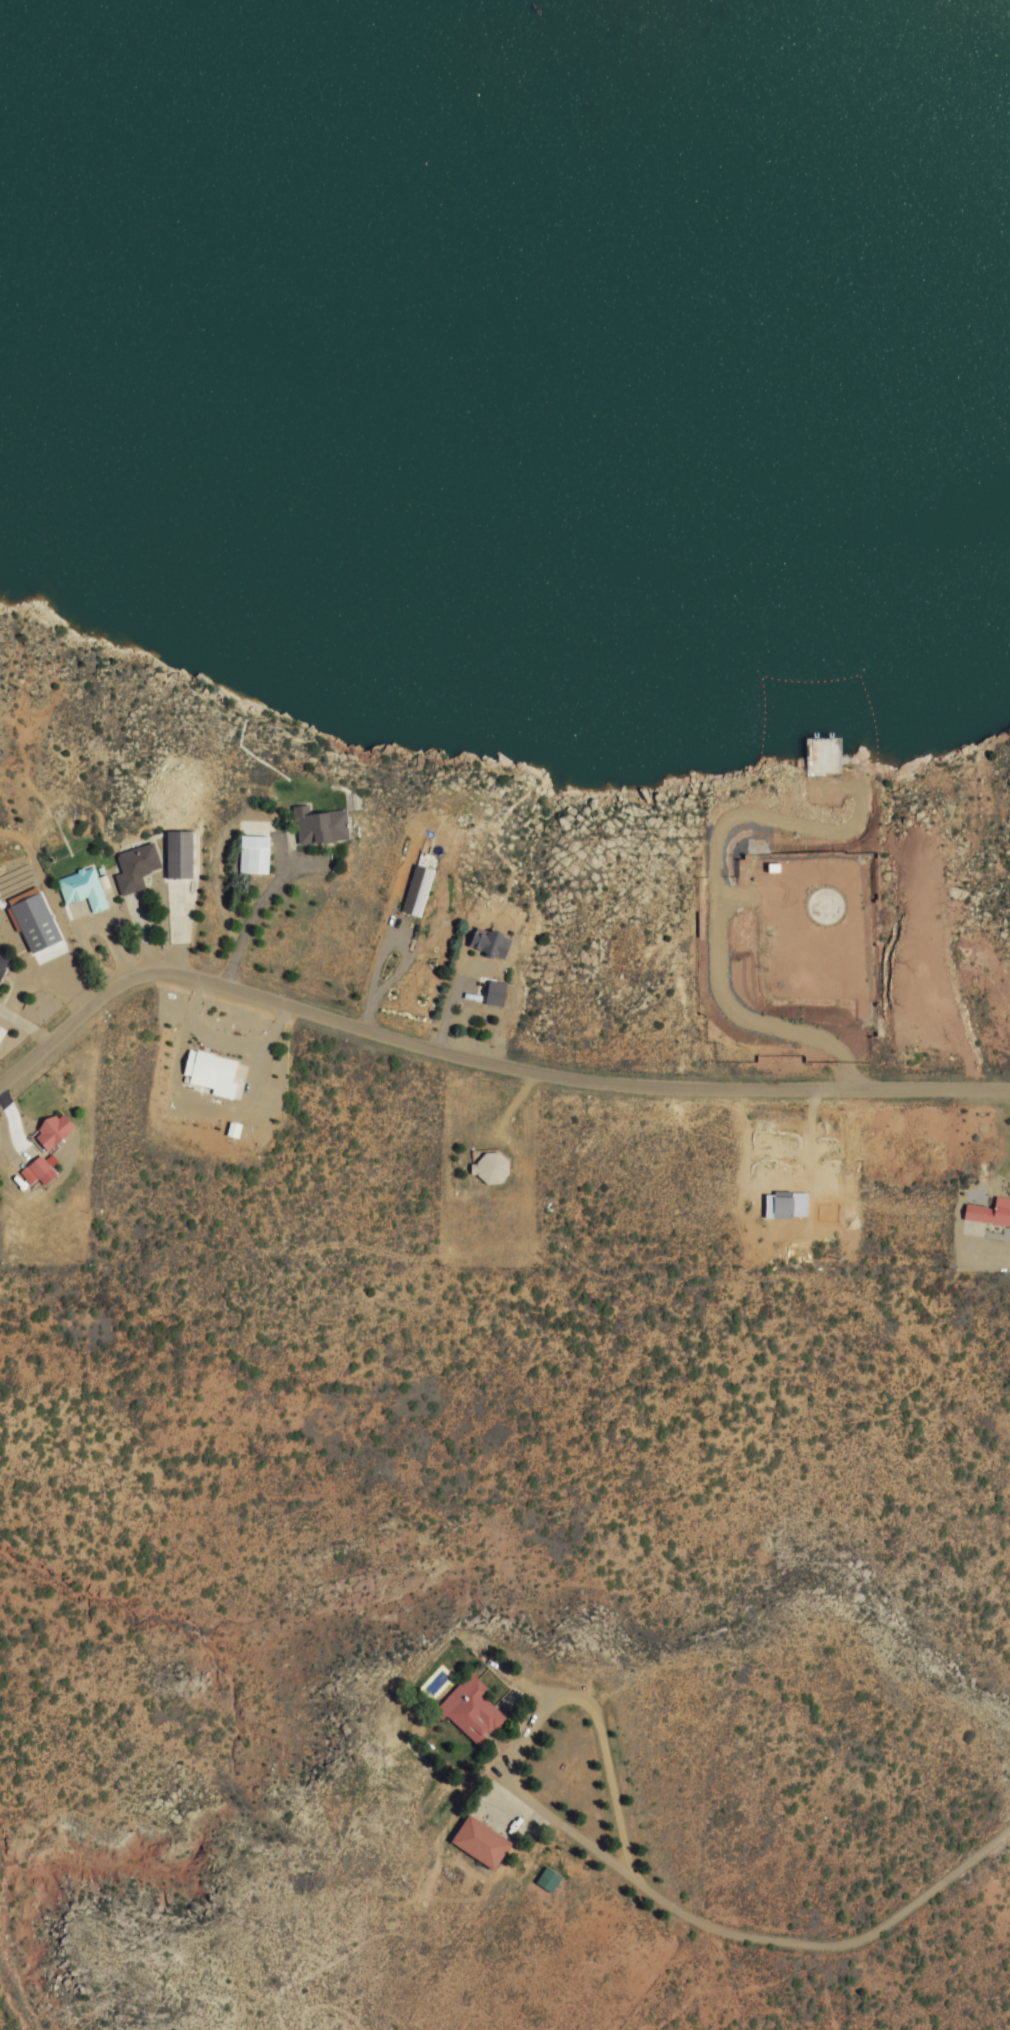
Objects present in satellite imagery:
river: (662, 106)
building: (311, 828)
building: (169, 855)
building: (241, 856)
building: (122, 869)
building: (70, 891)
building: (485, 945)
building: (492, 993)
building: (31, 1010)
road: (478, 1058)
building: (204, 1074)
building: (44, 1133)
building: (487, 1167)
building: (37, 1171)
building: (986, 1214)
building: (467, 1711)
building: (475, 1842)
building: (545, 1880)
road: (866, 1938)

